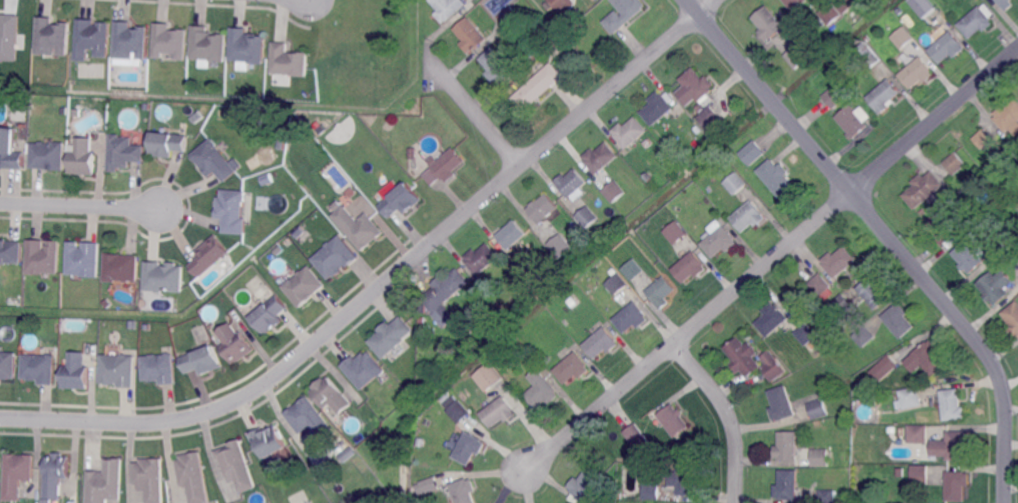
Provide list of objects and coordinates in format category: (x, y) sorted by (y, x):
building: (596, 0)
building: (793, 2)
building: (562, 4)
building: (1005, 4)
building: (549, 5)
building: (844, 5)
building: (922, 6)
road: (707, 7)
building: (447, 8)
building: (513, 14)
building: (624, 14)
building: (829, 14)
building: (768, 23)
building: (975, 23)
building: (471, 34)
building: (10, 36)
building: (901, 36)
building: (52, 37)
building: (92, 40)
building: (169, 40)
building: (131, 42)
building: (207, 44)
building: (246, 46)
building: (946, 48)
building: (557, 53)
building: (796, 55)
building: (529, 56)
building: (867, 57)
building: (289, 62)
building: (839, 63)
building: (496, 64)
building: (917, 73)
building: (696, 84)
building: (538, 87)
building: (885, 95)
building: (833, 97)
building: (147, 106)
building: (700, 107)
building: (657, 108)
road: (473, 109)
building: (64, 111)
building: (77, 112)
building: (198, 117)
building: (709, 117)
building: (1009, 117)
building: (852, 121)
building: (696, 127)
building: (629, 131)
building: (982, 138)
building: (647, 141)
building: (281, 143)
building: (168, 144)
building: (10, 150)
building: (753, 152)
building: (124, 153)
building: (962, 153)
building: (413, 154)
building: (48, 155)
building: (83, 157)
building: (601, 157)
building: (214, 161)
building: (449, 164)
building: (954, 164)
building: (648, 175)
building: (268, 178)
building: (776, 178)
building: (736, 183)
building: (573, 184)
building: (923, 189)
building: (614, 191)
building: (353, 192)
building: (401, 202)
road: (79, 204)
building: (337, 205)
building: (543, 208)
building: (990, 208)
building: (232, 212)
building: (922, 212)
building: (588, 216)
building: (748, 216)
building: (359, 228)
building: (947, 228)
building: (300, 232)
building: (676, 232)
building: (512, 234)
road: (886, 235)
building: (720, 241)
building: (1002, 245)
building: (561, 247)
building: (11, 252)
building: (210, 256)
building: (970, 256)
building: (43, 258)
building: (335, 258)
building: (482, 258)
road: (770, 259)
building: (84, 260)
building: (839, 261)
building: (690, 267)
building: (121, 268)
building: (633, 269)
building: (164, 278)
building: (617, 283)
building: (818, 285)
building: (996, 286)
building: (304, 287)
road: (381, 288)
building: (660, 290)
building: (873, 293)
building: (445, 295)
building: (108, 303)
building: (841, 305)
building: (423, 310)
building: (271, 316)
building: (631, 317)
building: (1013, 318)
building: (774, 319)
building: (422, 321)
building: (898, 321)
building: (566, 322)
building: (133, 325)
building: (148, 327)
building: (805, 334)
building: (864, 335)
building: (391, 337)
building: (602, 343)
building: (235, 344)
building: (742, 357)
building: (929, 358)
building: (203, 361)
building: (8, 366)
building: (572, 367)
building: (884, 368)
building: (39, 369)
building: (160, 369)
building: (774, 369)
building: (118, 370)
building: (364, 370)
building: (76, 372)
building: (487, 375)
building: (541, 390)
building: (330, 395)
building: (909, 398)
building: (782, 403)
building: (951, 405)
building: (816, 406)
building: (458, 410)
building: (498, 410)
road: (727, 415)
building: (674, 419)
building: (310, 420)
building: (902, 431)
building: (634, 433)
building: (918, 433)
building: (420, 440)
building: (269, 441)
building: (787, 446)
building: (956, 446)
building: (470, 448)
building: (344, 451)
building: (821, 458)
building: (237, 466)
building: (0, 468)
building: (18, 475)
building: (56, 475)
building: (918, 475)
building: (194, 477)
building: (151, 479)
building: (686, 480)
building: (106, 483)
building: (429, 483)
building: (585, 484)
building: (788, 485)
building: (955, 486)
building: (463, 490)
building: (651, 492)
building: (826, 496)
building: (55, 501)

